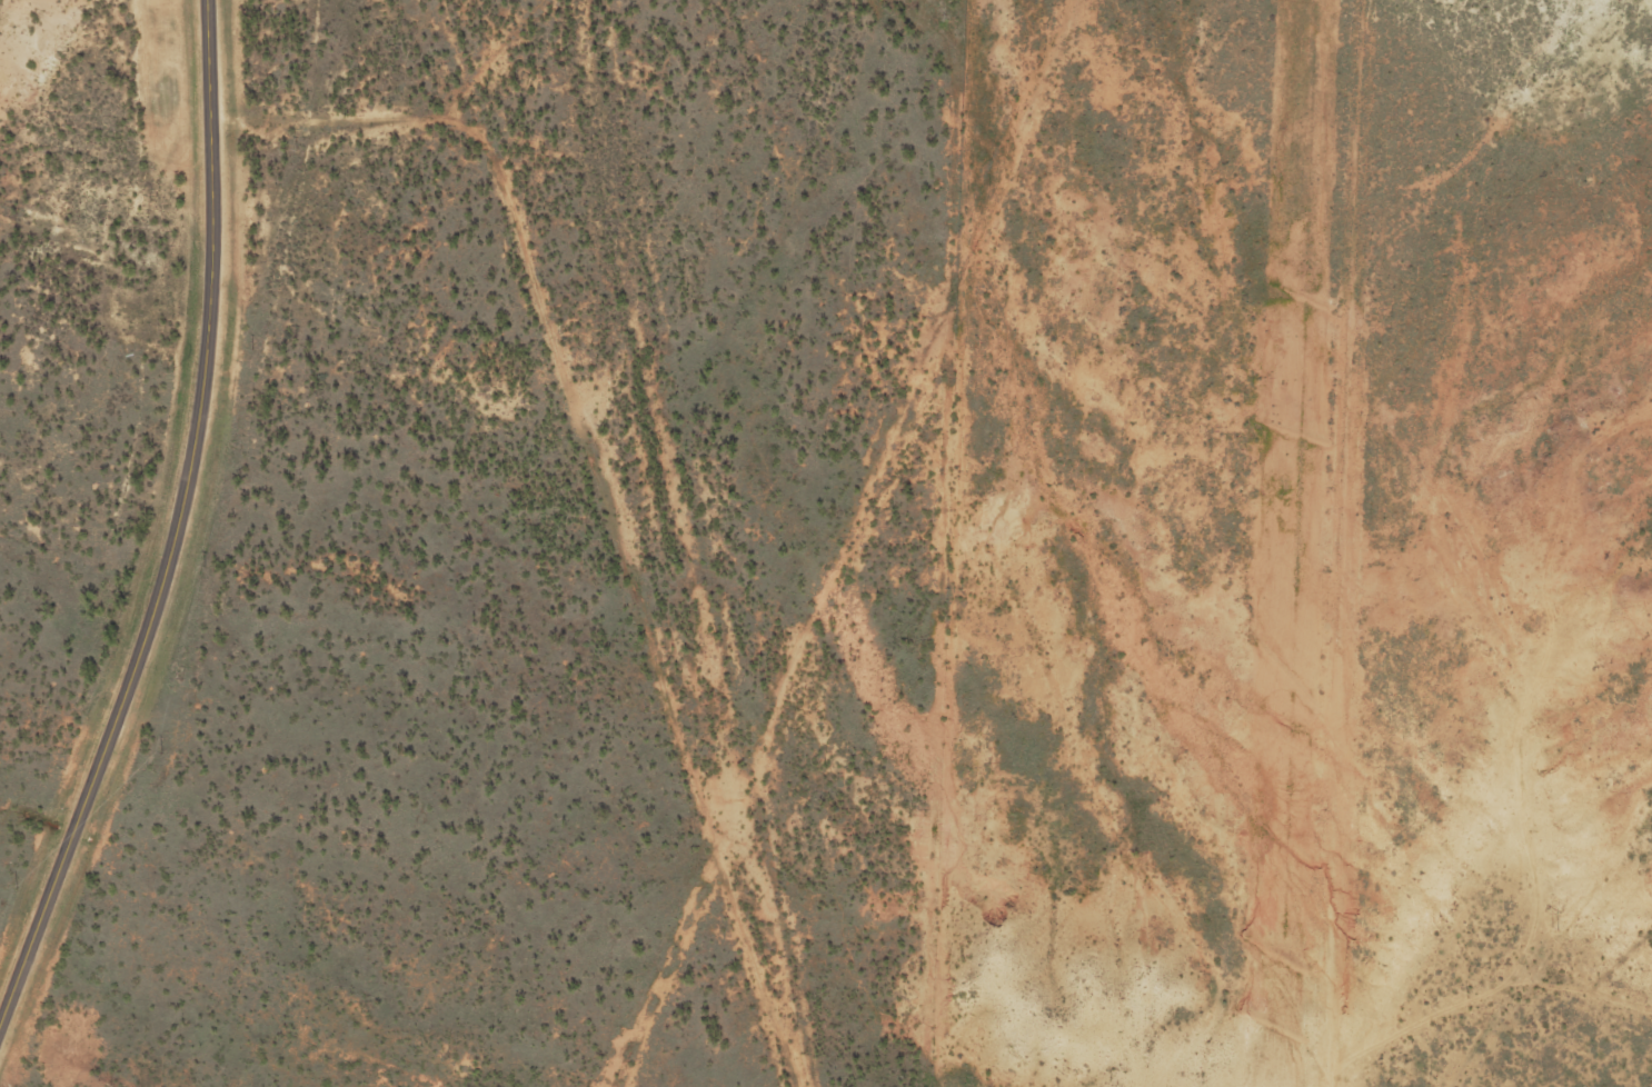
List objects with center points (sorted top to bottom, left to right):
road: (168, 6)
road: (24, 17)
road: (449, 81)
road: (172, 518)
road: (1351, 533)
road: (561, 536)
power tower: (1551, 926)
road: (1544, 1013)

